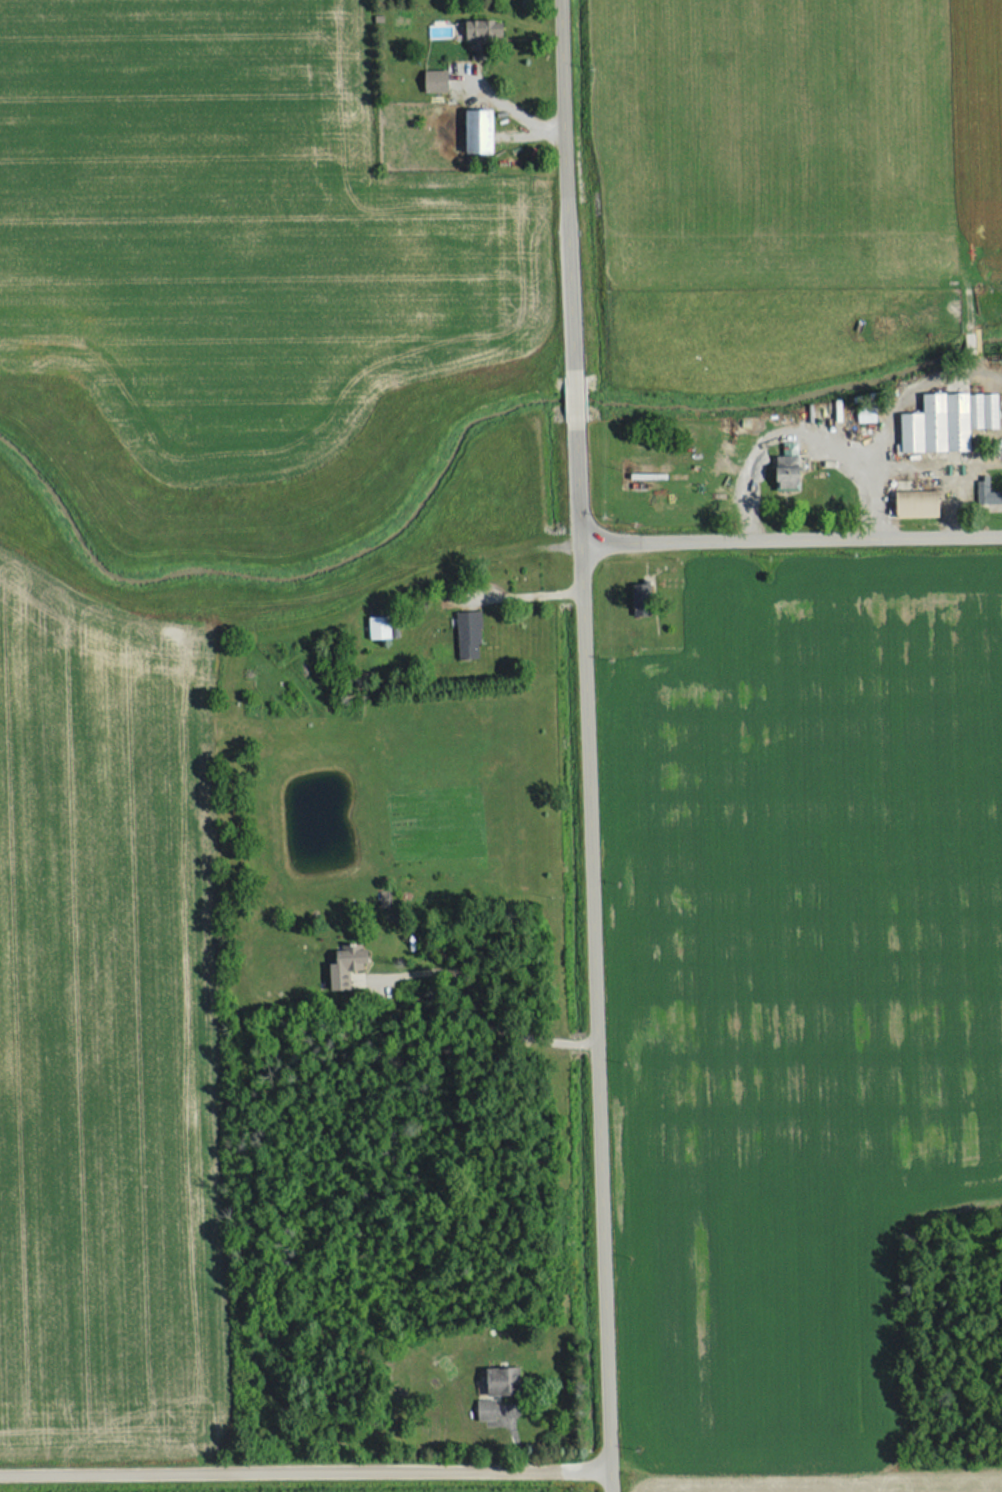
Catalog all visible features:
building: (471, 29)
building: (431, 81)
building: (474, 130)
crop: (792, 177)
road: (566, 185)
crop: (237, 235)
road: (911, 392)
road: (571, 399)
building: (862, 417)
building: (944, 420)
road: (800, 435)
road: (936, 473)
building: (781, 474)
building: (983, 494)
building: (914, 504)
road: (789, 537)
road: (526, 594)
building: (635, 596)
building: (374, 627)
building: (464, 635)
road: (597, 960)
building: (342, 966)
crop: (806, 991)
road: (485, 1025)
crop: (109, 1034)
building: (498, 1382)
building: (481, 1411)
road: (307, 1469)
crop: (816, 1483)

